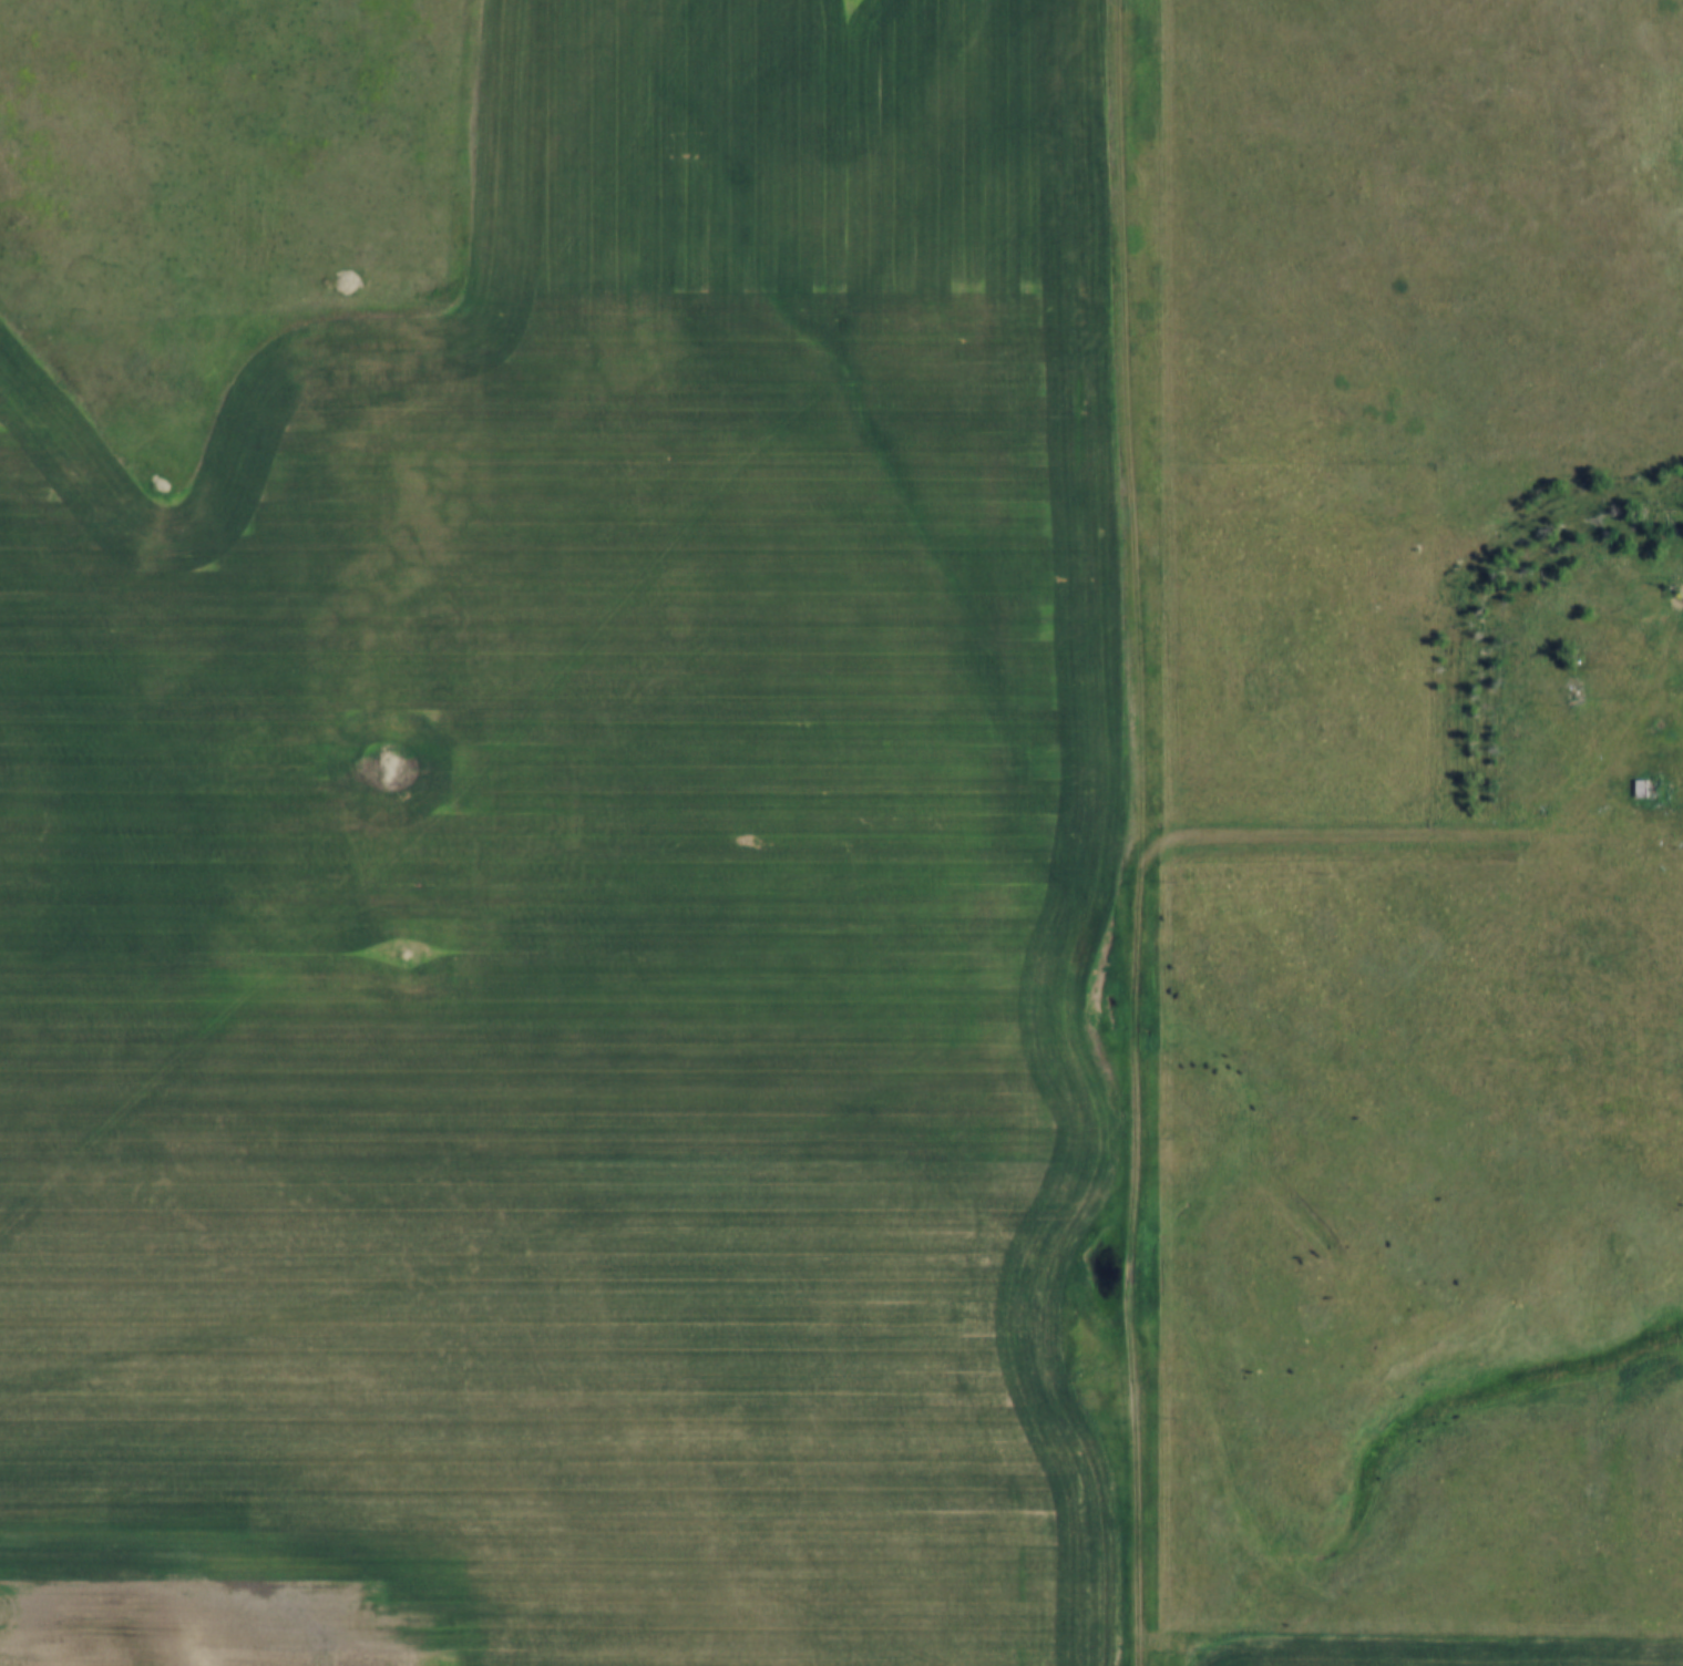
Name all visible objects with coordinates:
building: (1648, 788)
road: (1139, 1008)

